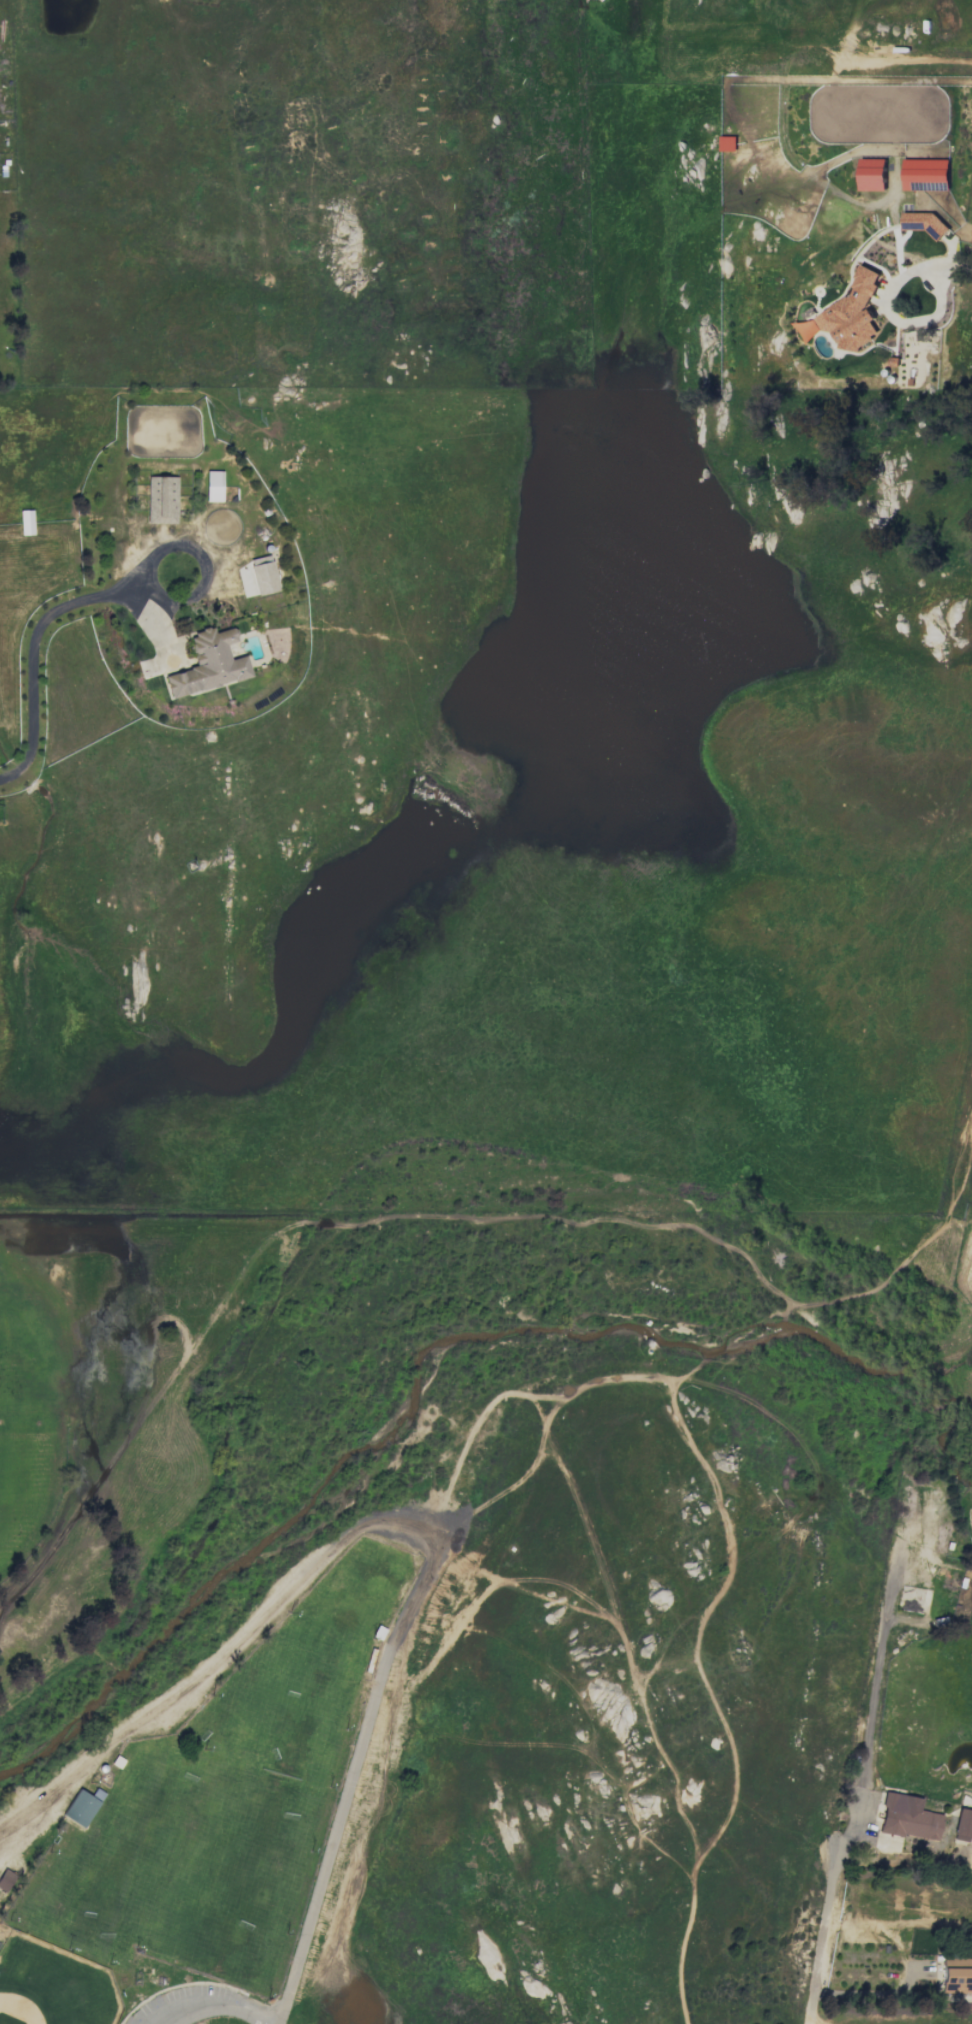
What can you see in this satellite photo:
building: (727, 143)
building: (872, 174)
building: (925, 174)
building: (923, 222)
road: (954, 264)
building: (847, 314)
road: (892, 319)
building: (213, 485)
building: (161, 499)
building: (26, 522)
road: (199, 555)
building: (257, 577)
road: (33, 651)
building: (208, 663)
road: (953, 1255)
park: (26, 1358)
park: (26, 1489)
road: (413, 1529)
park: (448, 1583)
road: (860, 1761)
building: (81, 1806)
building: (908, 1817)
building: (963, 1825)
building: (5, 1879)
road: (899, 1922)
building: (956, 1977)
park: (53, 1987)
road: (870, 1992)
parking lot: (181, 2007)
road: (219, 2011)

